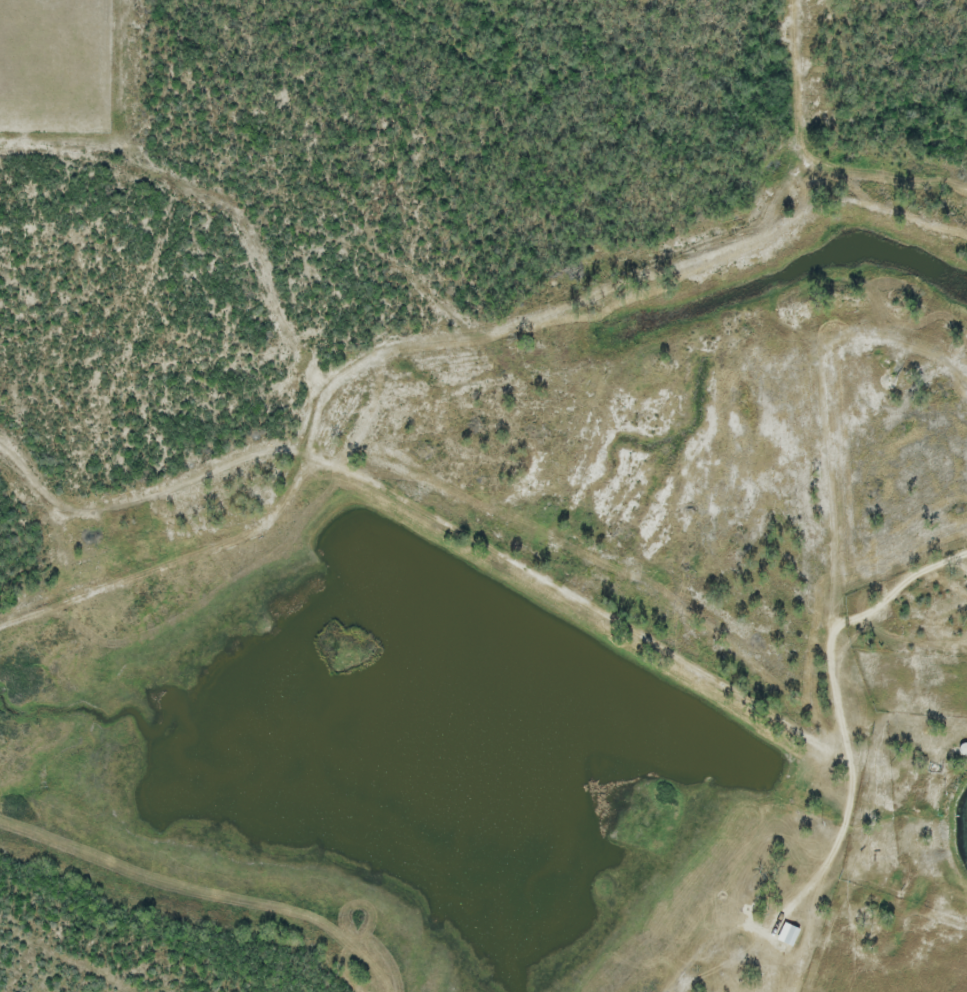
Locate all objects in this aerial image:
road: (855, 675)
building: (785, 937)

